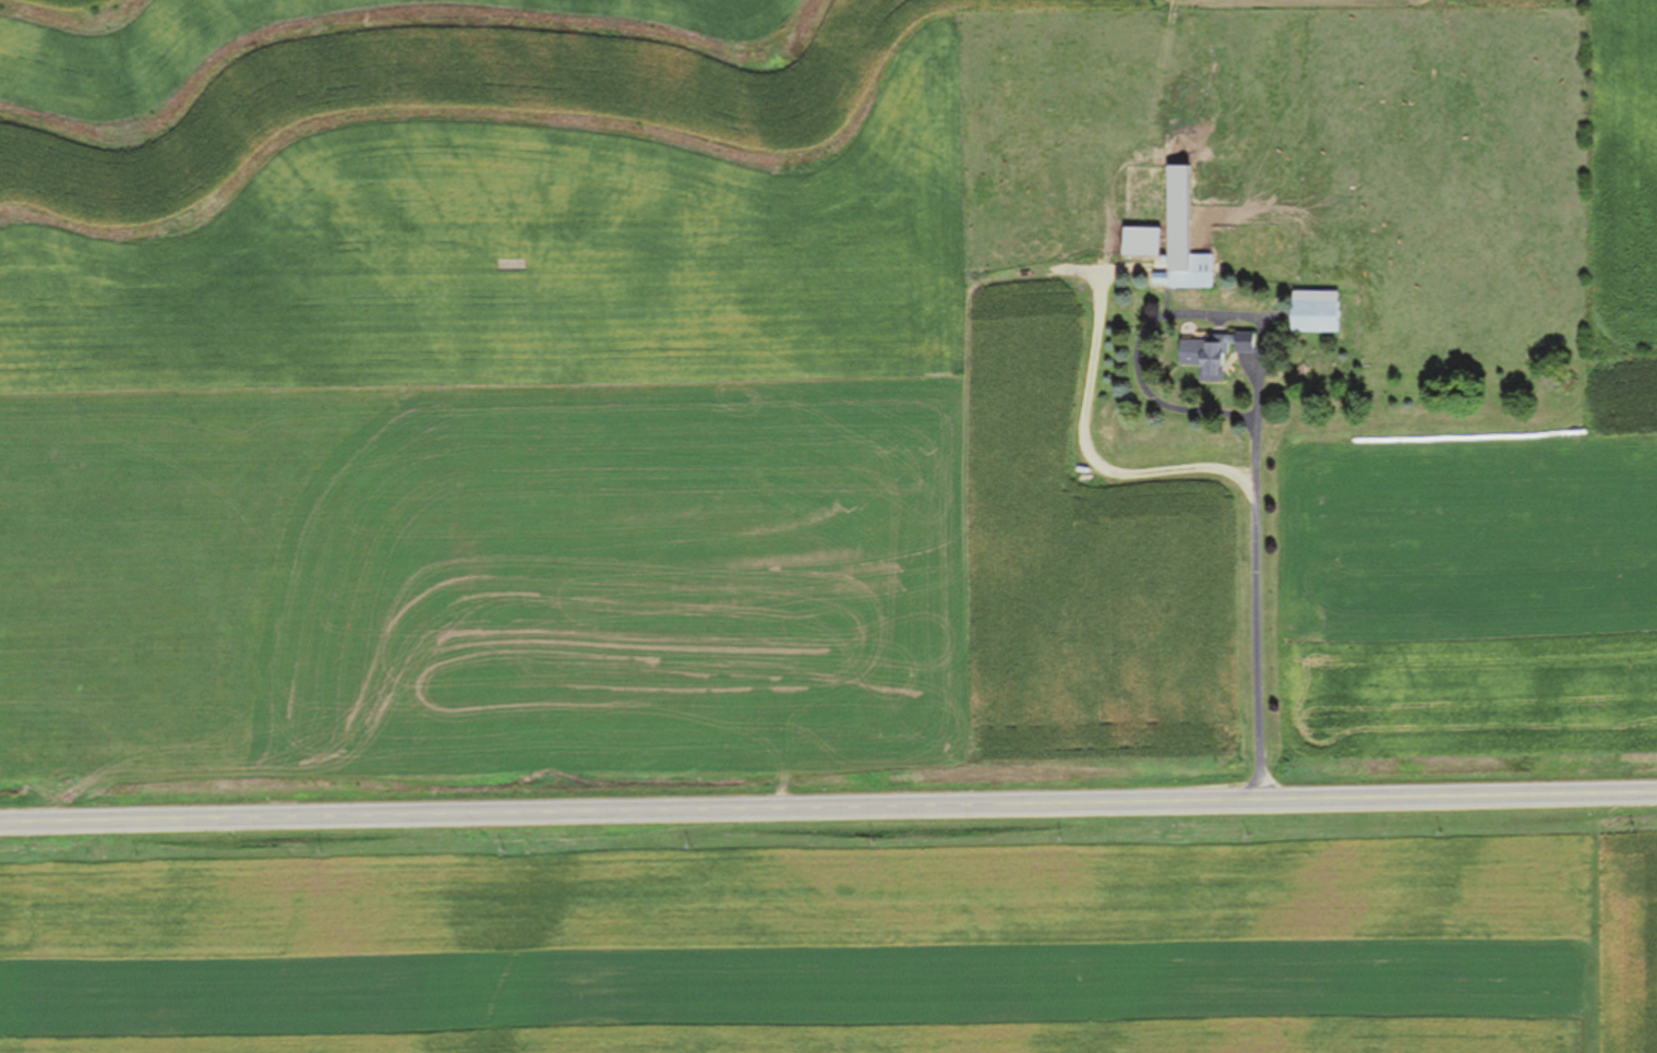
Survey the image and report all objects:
building: (1184, 273)
building: (1312, 316)
building: (1210, 354)
road: (1259, 581)
road: (828, 810)

